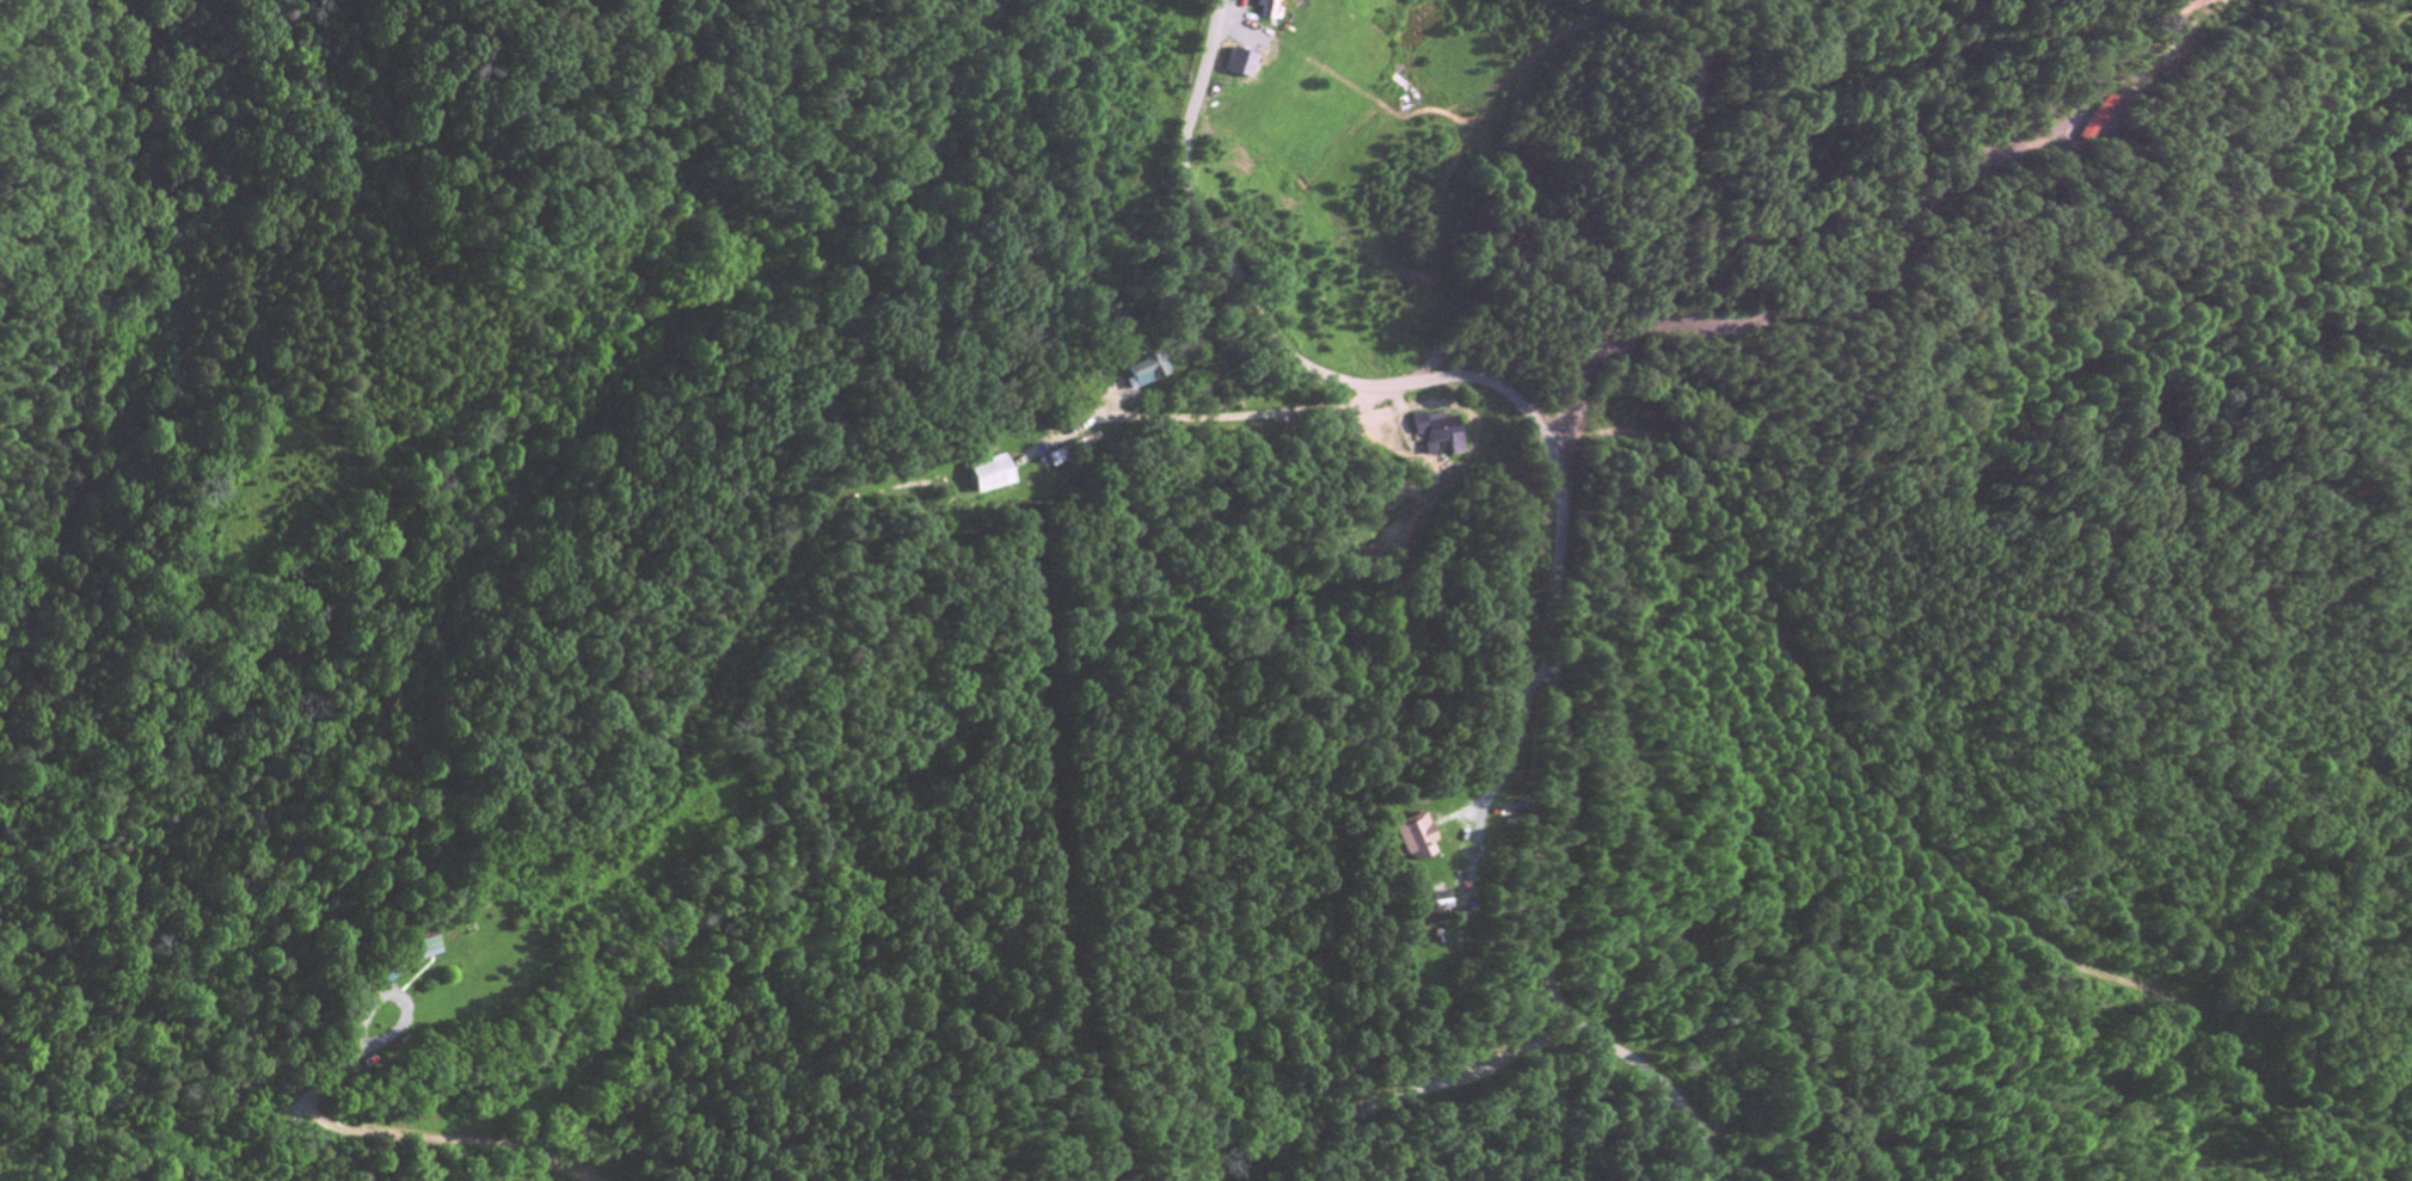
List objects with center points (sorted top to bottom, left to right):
building: (1264, 10)
building: (1256, 51)
building: (2092, 121)
building: (1144, 374)
road: (1195, 417)
building: (1442, 433)
building: (988, 476)
road: (1553, 503)
road: (1504, 749)
building: (1414, 842)
building: (1437, 911)
building: (429, 951)

